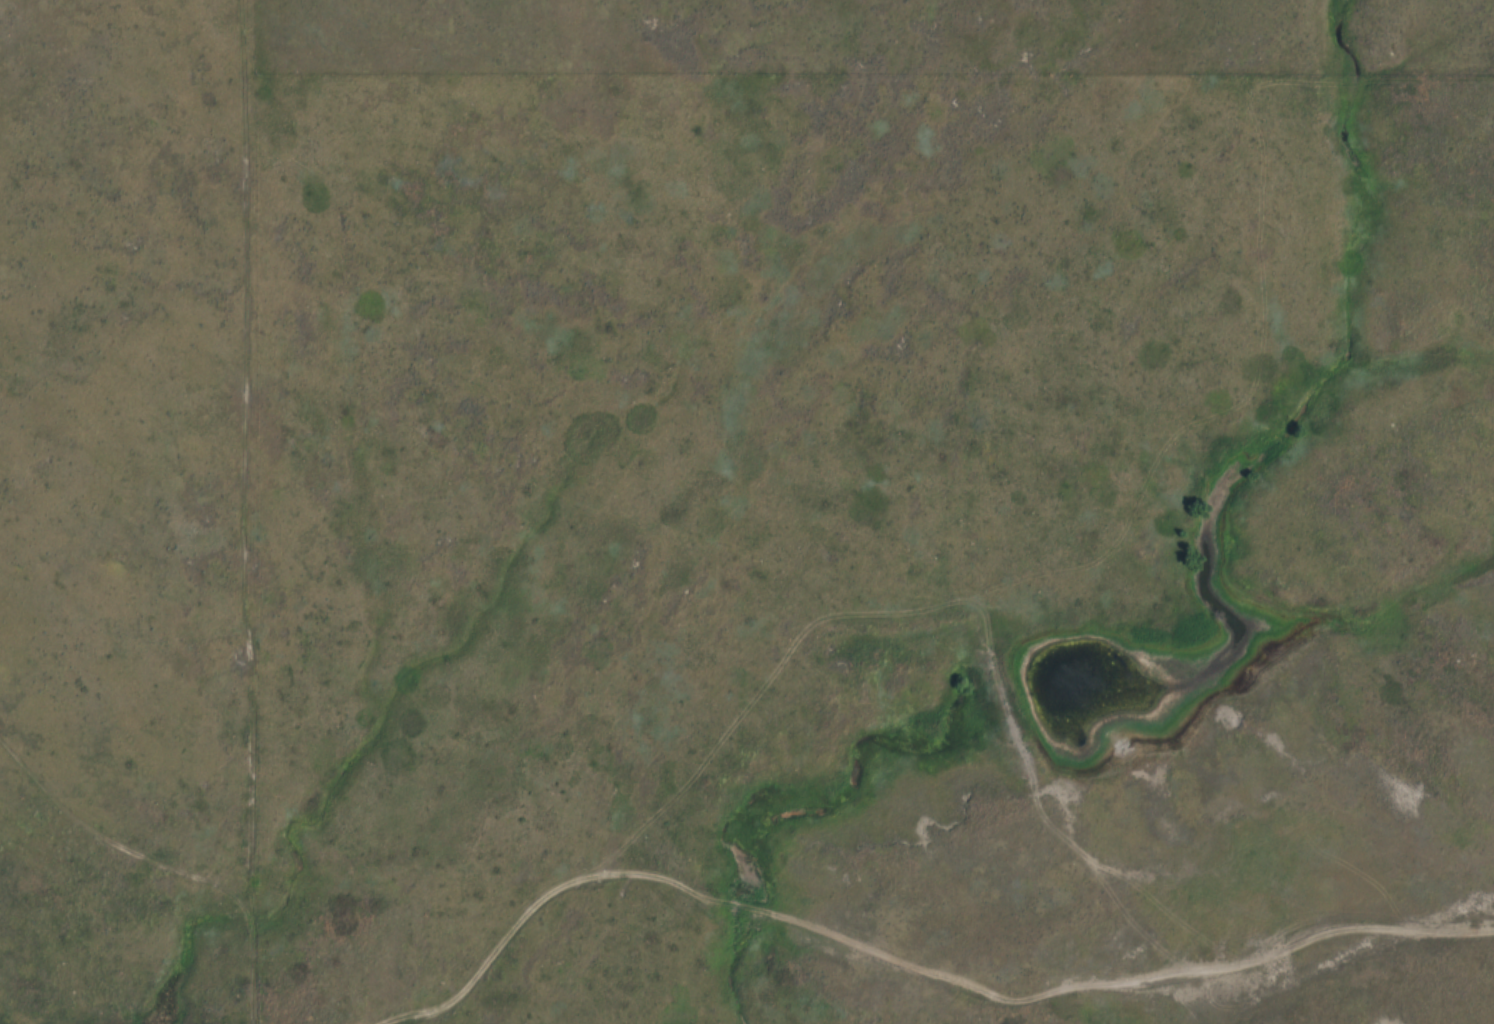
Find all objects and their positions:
road: (166, 864)
road: (925, 971)

